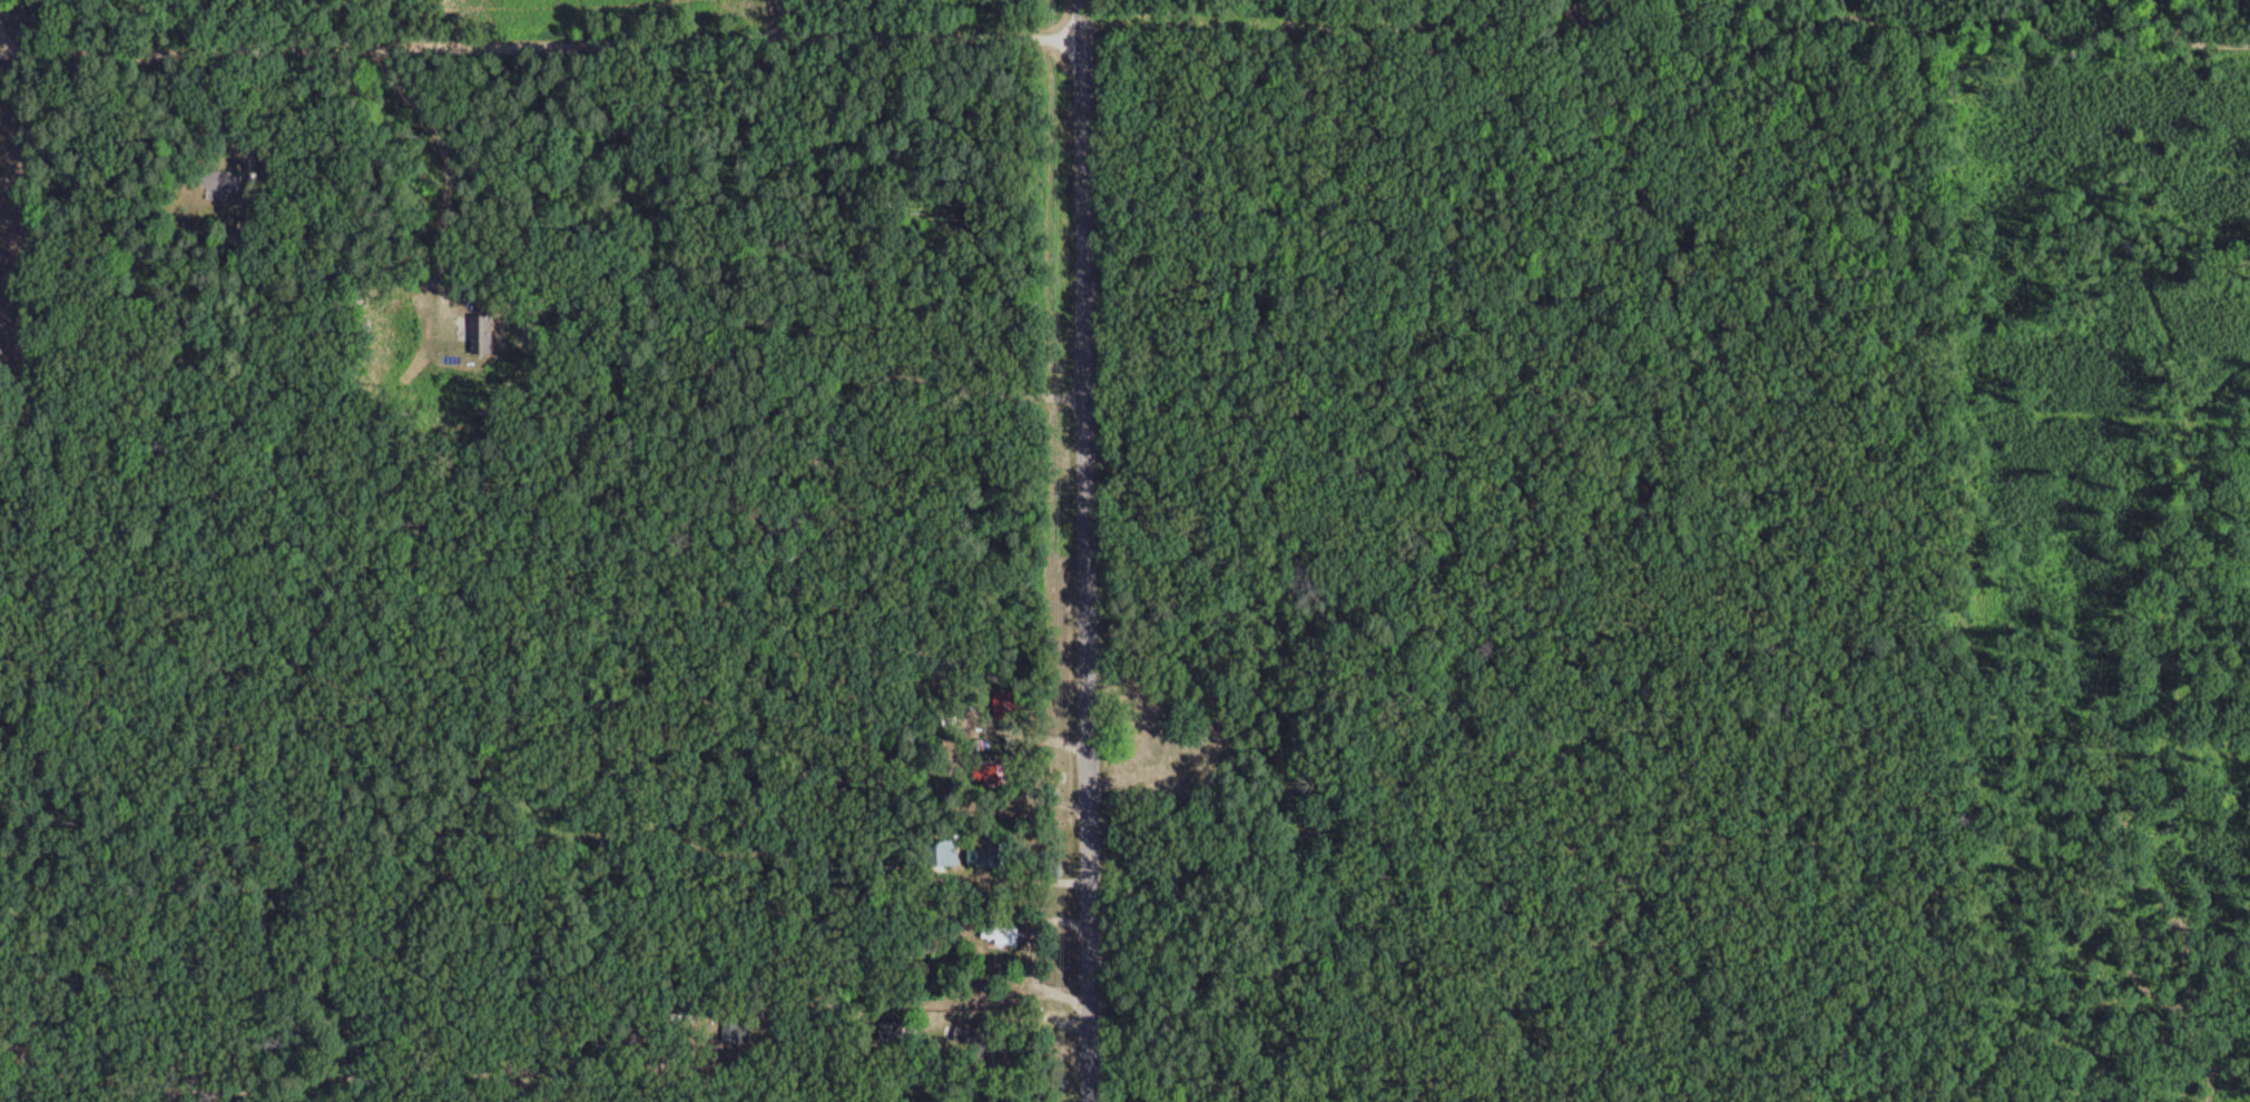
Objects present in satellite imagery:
road: (1723, 13)
building: (1583, 20)
road: (775, 22)
road: (1087, 22)
road: (2046, 24)
road: (543, 45)
road: (1088, 573)
building: (999, 935)

